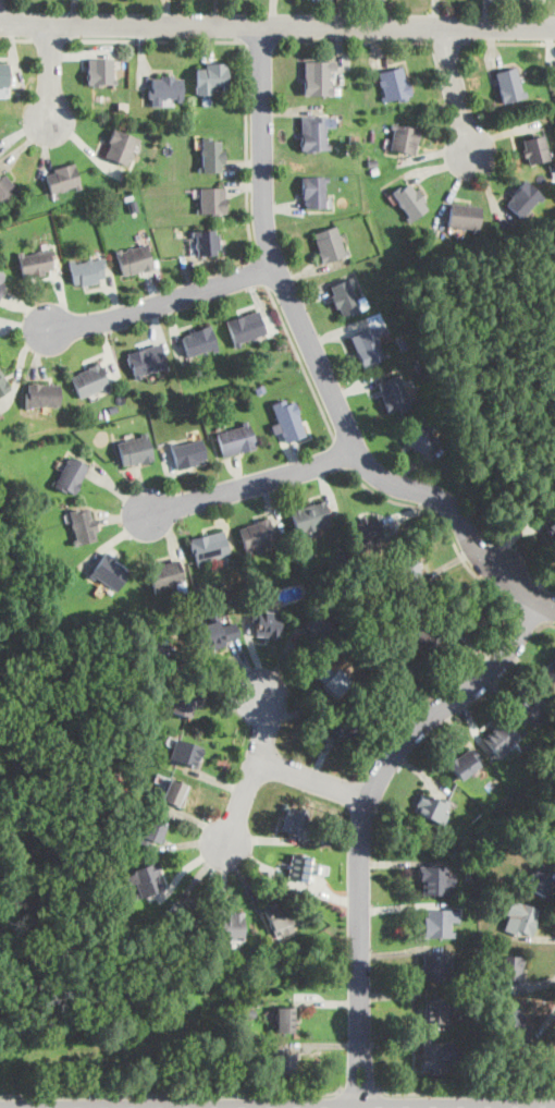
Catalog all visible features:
road: (276, 23)
road: (15, 38)
road: (50, 39)
road: (353, 40)
road: (260, 41)
road: (445, 41)
road: (510, 42)
road: (246, 60)
building: (100, 70)
building: (3, 73)
road: (49, 74)
building: (318, 76)
building: (211, 77)
building: (393, 83)
building: (509, 83)
building: (166, 88)
road: (455, 92)
building: (313, 132)
building: (404, 136)
building: (121, 146)
building: (535, 147)
building: (212, 154)
building: (64, 176)
building: (7, 187)
building: (314, 190)
building: (522, 197)
building: (212, 199)
building: (409, 199)
building: (464, 215)
building: (206, 241)
building: (329, 243)
building: (134, 258)
building: (34, 261)
road: (261, 268)
building: (85, 270)
building: (2, 277)
building: (344, 295)
road: (160, 301)
building: (245, 326)
building: (198, 341)
building: (371, 343)
road: (300, 360)
building: (148, 361)
road: (320, 366)
building: (90, 379)
building: (4, 383)
building: (393, 392)
building: (41, 393)
building: (288, 418)
building: (237, 438)
building: (420, 438)
building: (135, 449)
building: (187, 452)
road: (341, 452)
building: (72, 474)
road: (247, 484)
building: (310, 514)
road: (446, 524)
building: (552, 525)
building: (83, 526)
building: (366, 526)
building: (257, 534)
building: (210, 547)
building: (410, 567)
building: (110, 570)
building: (165, 574)
road: (530, 614)
building: (267, 619)
building: (320, 622)
road: (546, 622)
building: (215, 633)
building: (423, 637)
building: (153, 645)
building: (551, 669)
building: (398, 670)
road: (214, 674)
building: (331, 680)
building: (182, 703)
building: (534, 706)
building: (345, 727)
building: (501, 736)
building: (186, 751)
building: (464, 763)
road: (254, 771)
road: (312, 780)
building: (175, 791)
building: (430, 805)
road: (363, 821)
building: (294, 823)
building: (150, 831)
building: (550, 840)
building: (301, 867)
building: (540, 877)
building: (146, 878)
building: (436, 878)
building: (181, 915)
building: (277, 916)
building: (520, 917)
building: (440, 921)
building: (229, 924)
building: (433, 964)
building: (511, 965)
building: (434, 1010)
building: (285, 1018)
building: (516, 1021)
building: (548, 1049)
building: (436, 1055)
building: (283, 1059)
road: (360, 1092)
road: (465, 1092)
road: (172, 1094)

